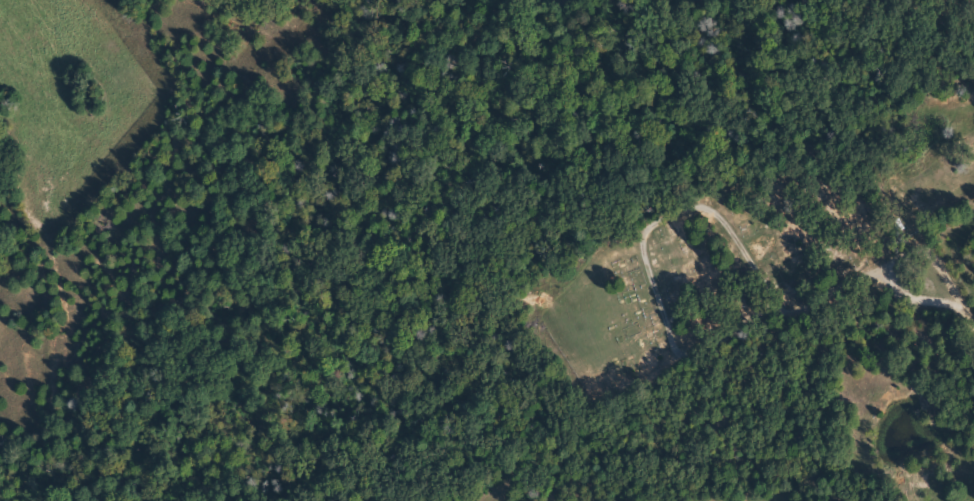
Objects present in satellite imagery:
road: (952, 290)
park: (665, 292)

